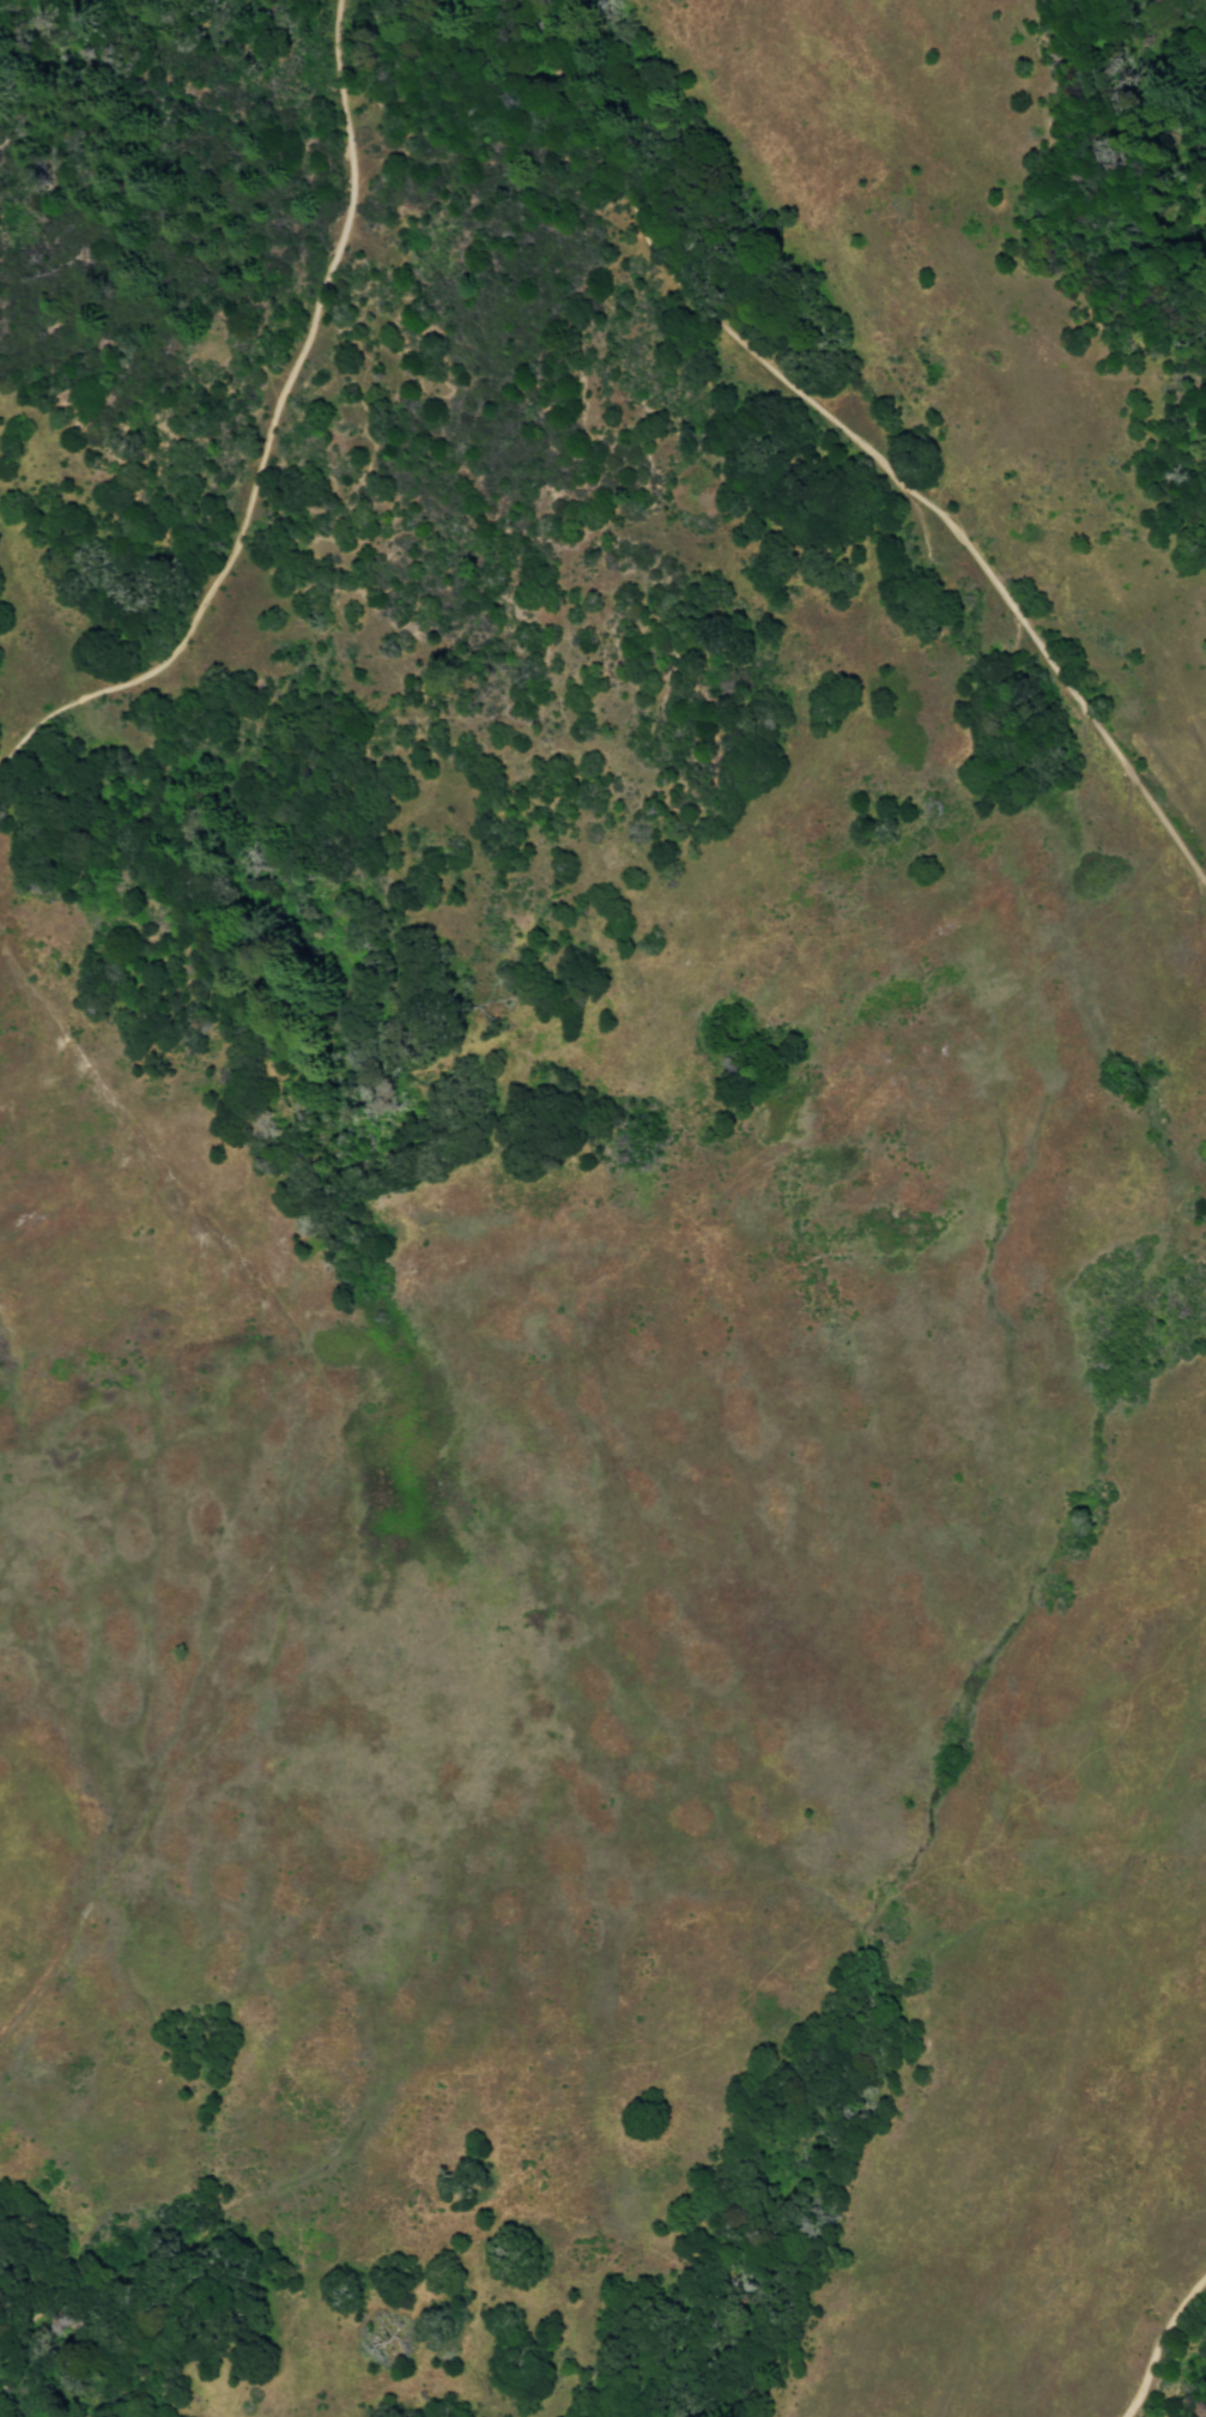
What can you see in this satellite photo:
road: (268, 436)
road: (852, 442)
road: (36, 2310)
road: (1158, 2344)

